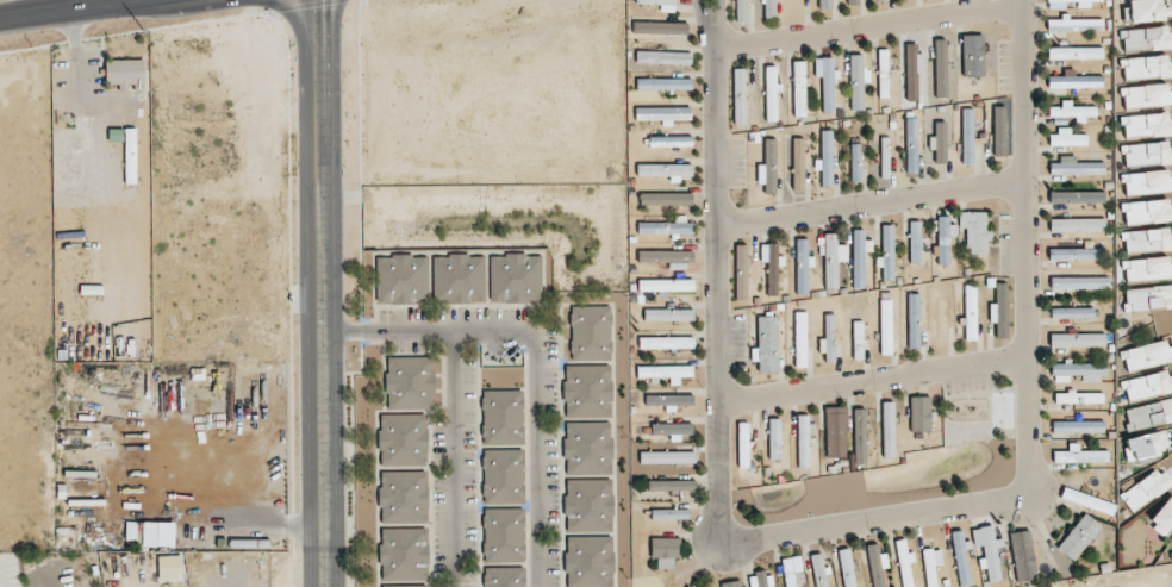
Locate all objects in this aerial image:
building: (884, 0)
building: (661, 4)
building: (824, 4)
building: (1055, 5)
building: (798, 6)
building: (769, 8)
road: (69, 10)
building: (741, 11)
building: (1146, 11)
traffic signals: (310, 14)
road: (717, 20)
building: (1074, 24)
road: (871, 25)
building: (1146, 38)
building: (1074, 52)
building: (972, 55)
building: (663, 57)
building: (1146, 67)
building: (940, 68)
building: (911, 71)
building: (883, 73)
building: (858, 81)
building: (1073, 81)
building: (663, 83)
building: (828, 85)
building: (799, 88)
building: (771, 93)
building: (1146, 95)
building: (738, 96)
building: (1073, 112)
building: (662, 114)
building: (1147, 125)
building: (998, 130)
building: (967, 136)
building: (1066, 138)
building: (669, 140)
building: (939, 142)
building: (911, 145)
building: (1147, 154)
building: (855, 162)
building: (798, 164)
building: (884, 164)
building: (825, 166)
building: (1074, 167)
building: (666, 170)
building: (765, 170)
building: (1147, 182)
building: (1077, 196)
building: (665, 200)
road: (873, 204)
building: (1147, 212)
building: (1077, 225)
building: (667, 227)
building: (975, 231)
building: (943, 238)
building: (915, 241)
building: (1147, 241)
building: (886, 254)
building: (1076, 254)
building: (665, 256)
building: (859, 257)
building: (830, 261)
building: (802, 266)
building: (1146, 268)
building: (772, 269)
building: (741, 271)
building: (401, 277)
building: (459, 277)
building: (515, 277)
building: (1079, 282)
building: (665, 285)
road: (312, 293)
building: (1147, 298)
building: (1000, 310)
building: (970, 312)
building: (1071, 312)
building: (666, 314)
building: (912, 320)
building: (942, 320)
building: (885, 326)
building: (594, 332)
building: (829, 337)
building: (856, 338)
building: (800, 339)
building: (1077, 339)
building: (666, 342)
building: (766, 346)
road: (535, 352)
building: (1147, 355)
building: (1078, 371)
building: (665, 373)
road: (875, 380)
building: (409, 382)
building: (1147, 385)
building: (594, 391)
building: (1078, 398)
building: (666, 401)
building: (919, 413)
building: (1149, 413)
building: (501, 417)
building: (1078, 426)
building: (887, 429)
building: (672, 430)
building: (860, 436)
building: (401, 439)
building: (803, 441)
building: (743, 444)
building: (1145, 445)
building: (594, 448)
building: (1079, 455)
building: (665, 456)
road: (453, 458)
building: (503, 476)
building: (671, 485)
building: (1146, 489)
building: (403, 497)
building: (1089, 500)
building: (594, 505)
building: (669, 514)
building: (1162, 518)
road: (855, 524)
building: (503, 535)
building: (1079, 536)
building: (665, 551)
building: (989, 551)
building: (403, 554)
building: (960, 557)
building: (1024, 557)
building: (594, 561)
building: (903, 563)
building: (875, 566)
building: (930, 566)
building: (847, 567)
building: (818, 570)
building: (788, 572)
building: (504, 576)
building: (731, 583)
building: (404, 586)

